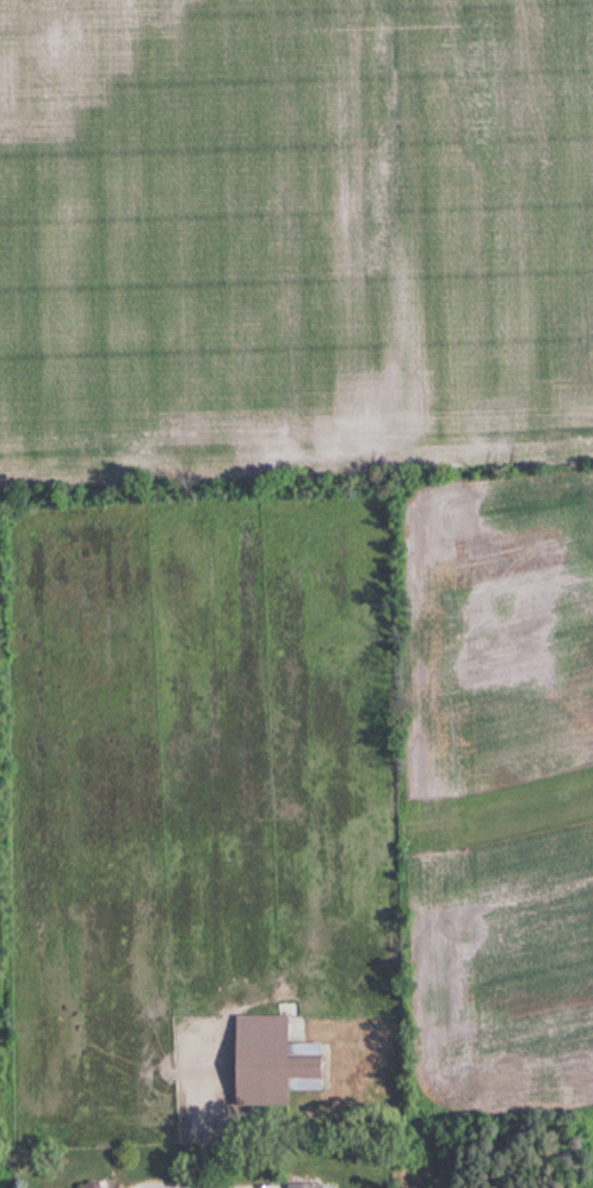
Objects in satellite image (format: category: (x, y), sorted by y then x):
airport runway: (496, 781)
building: (267, 1062)
road: (203, 1183)
building: (85, 1184)
building: (301, 1186)
building: (119, 1187)

